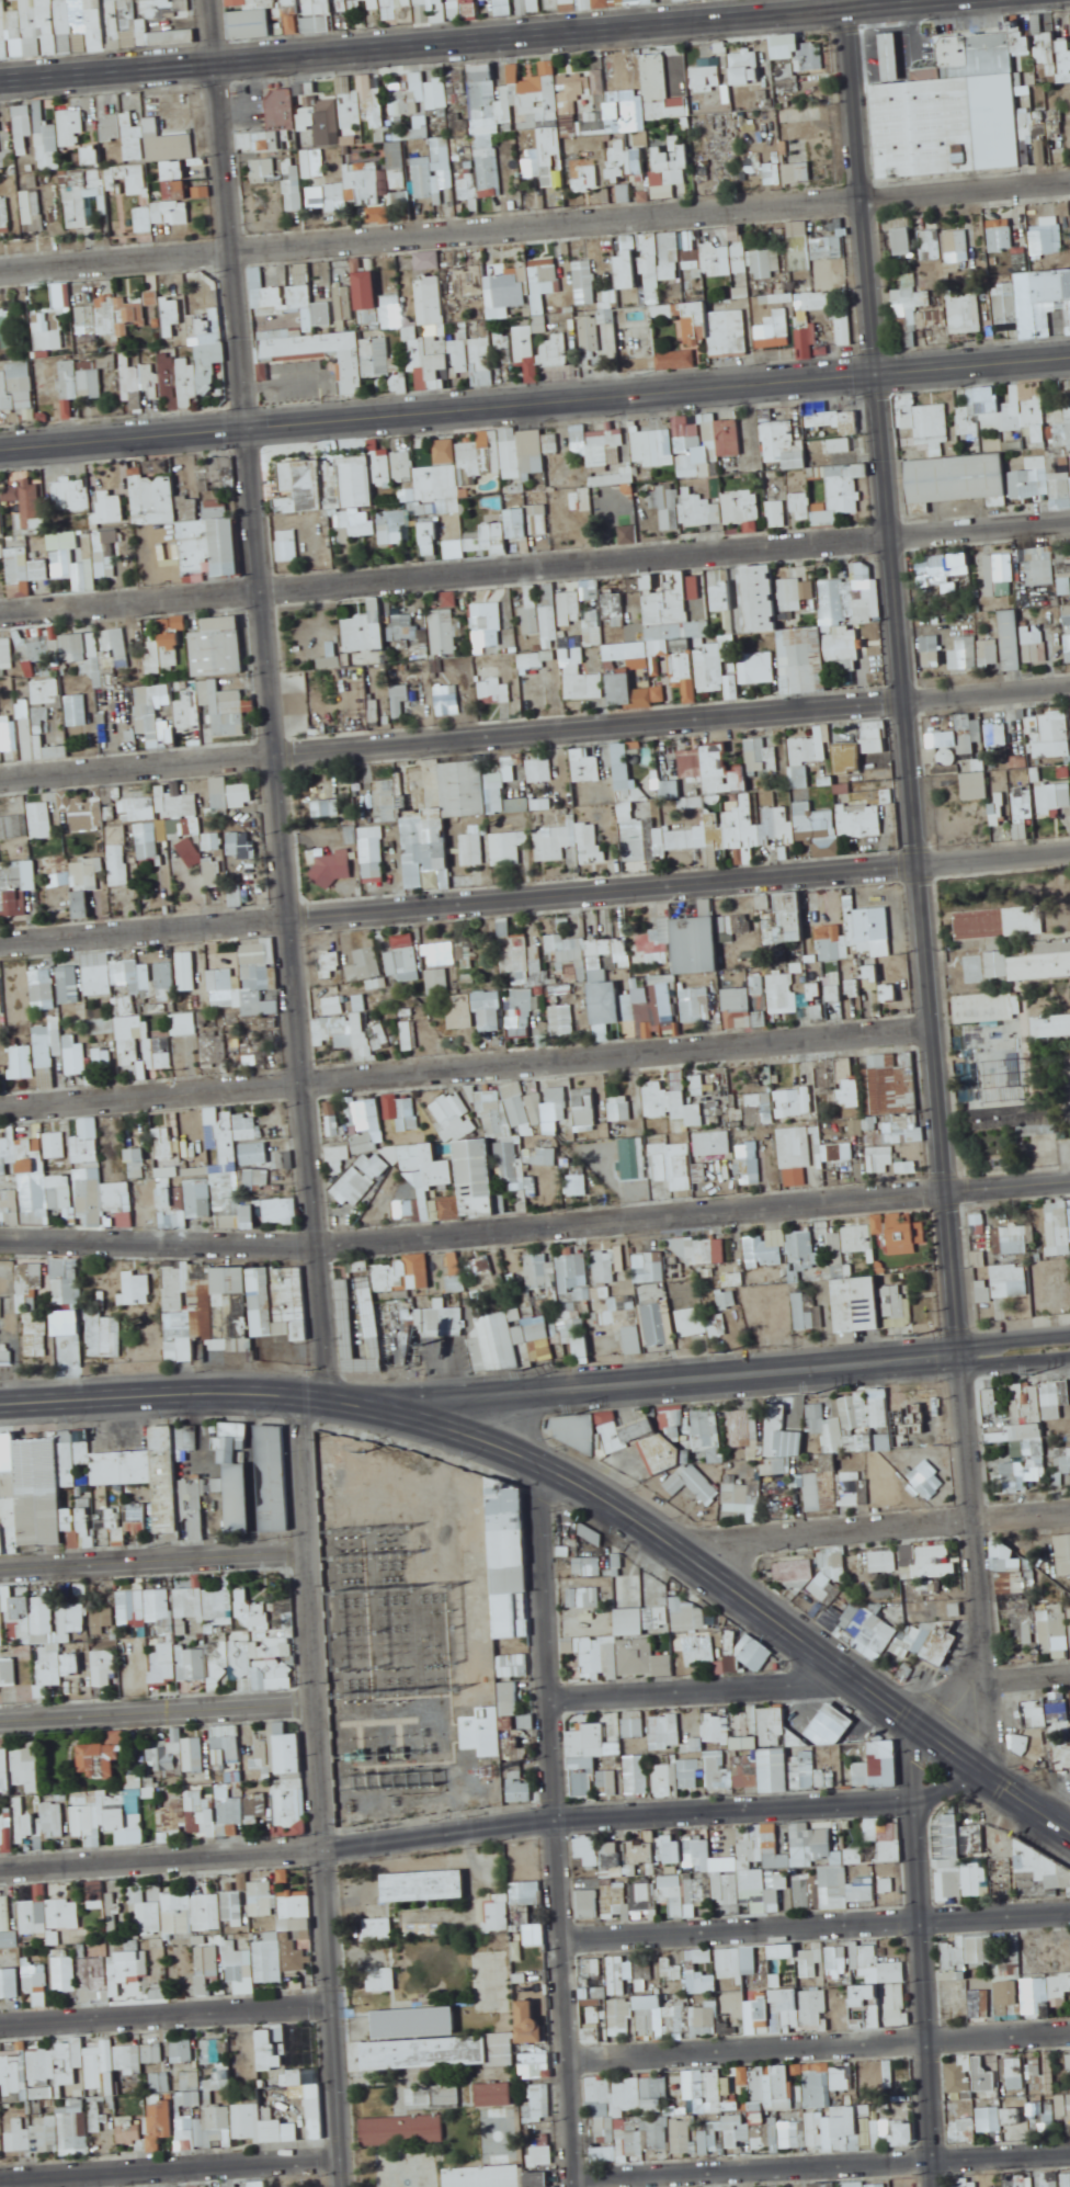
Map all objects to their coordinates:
road: (955, 1)
building: (251, 3)
building: (537, 5)
building: (331, 7)
building: (388, 7)
building: (470, 10)
building: (251, 23)
building: (79, 27)
road: (490, 36)
road: (898, 48)
building: (888, 52)
gas station: (888, 52)
building: (705, 77)
building: (787, 78)
building: (576, 86)
building: (536, 90)
building: (678, 106)
building: (486, 109)
building: (278, 116)
building: (71, 127)
building: (124, 132)
building: (171, 150)
building: (0, 158)
building: (627, 166)
building: (671, 169)
building: (264, 170)
building: (587, 179)
building: (425, 185)
building: (170, 188)
building: (295, 199)
building: (32, 212)
building: (4, 214)
road: (534, 222)
building: (1000, 235)
building: (931, 236)
building: (903, 239)
building: (1051, 240)
building: (956, 248)
building: (727, 256)
building: (829, 256)
building: (429, 260)
building: (765, 263)
building: (301, 274)
building: (909, 284)
building: (366, 290)
building: (430, 298)
building: (1065, 299)
building: (274, 301)
building: (1006, 304)
building: (115, 311)
building: (342, 315)
building: (966, 315)
building: (843, 327)
building: (48, 330)
building: (729, 331)
building: (592, 333)
building: (305, 342)
building: (377, 356)
building: (684, 359)
building: (16, 386)
building: (91, 388)
road: (535, 400)
building: (1033, 404)
building: (981, 411)
building: (921, 423)
building: (686, 428)
building: (652, 447)
building: (712, 447)
building: (955, 478)
building: (299, 489)
building: (800, 498)
building: (25, 501)
building: (216, 511)
building: (152, 515)
building: (0, 522)
building: (517, 523)
building: (392, 528)
road: (534, 565)
building: (1040, 565)
building: (39, 569)
building: (721, 596)
building: (865, 600)
building: (667, 605)
building: (1067, 614)
building: (605, 615)
building: (377, 623)
building: (1011, 639)
building: (842, 644)
building: (81, 647)
building: (218, 647)
building: (931, 650)
building: (967, 651)
building: (660, 665)
building: (683, 667)
building: (712, 667)
building: (758, 667)
building: (631, 676)
building: (583, 683)
building: (226, 706)
building: (152, 707)
road: (272, 707)
building: (76, 710)
building: (1054, 726)
road: (534, 730)
building: (12, 734)
building: (966, 737)
building: (623, 764)
building: (720, 771)
building: (975, 779)
building: (221, 793)
building: (242, 794)
building: (386, 801)
building: (328, 807)
building: (1024, 807)
building: (42, 820)
building: (861, 820)
building: (14, 827)
building: (148, 840)
road: (917, 840)
building: (373, 852)
building: (204, 863)
building: (333, 868)
building: (86, 873)
building: (16, 888)
road: (534, 895)
building: (82, 904)
building: (792, 916)
road: (466, 1063)
road: (535, 1223)
road: (1005, 1345)
road: (1004, 1367)
road: (162, 1380)
road: (667, 1382)
road: (152, 1401)
road: (523, 1447)
road: (502, 1461)
road: (872, 1531)
road: (152, 1559)
power substation: (385, 1675)
road: (1024, 1678)
road: (709, 1687)
road: (884, 1689)
road: (953, 1701)
road: (874, 1706)
road: (158, 1709)
building: (827, 1722)
gas station: (827, 1722)
road: (983, 1724)
road: (319, 1797)
road: (557, 1821)
road: (490, 1825)

